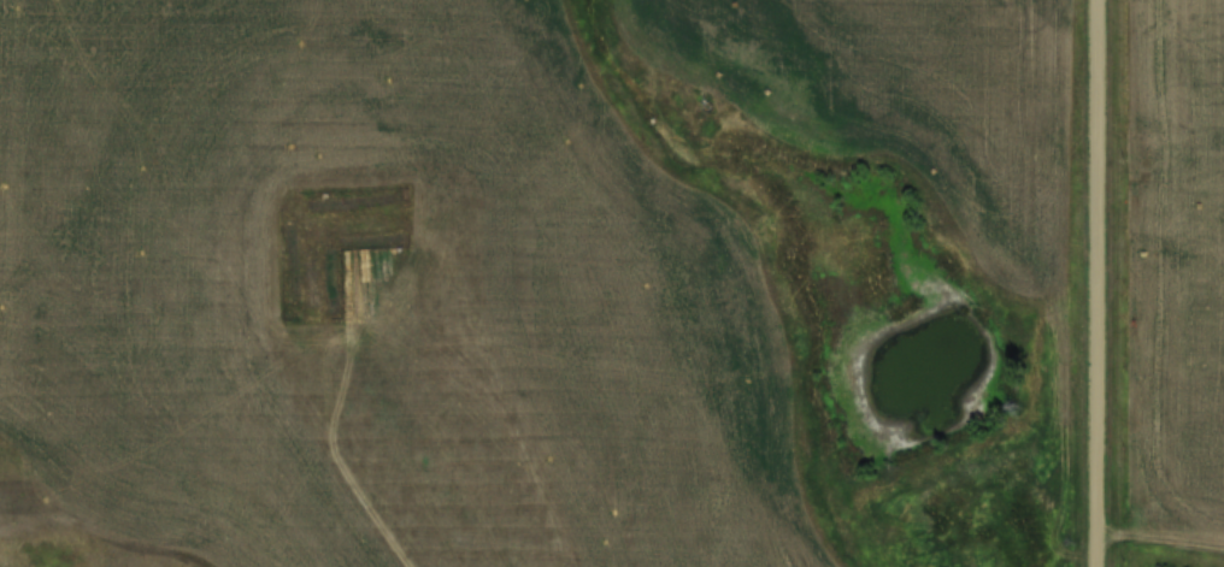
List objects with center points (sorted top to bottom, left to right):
road: (1087, 283)

